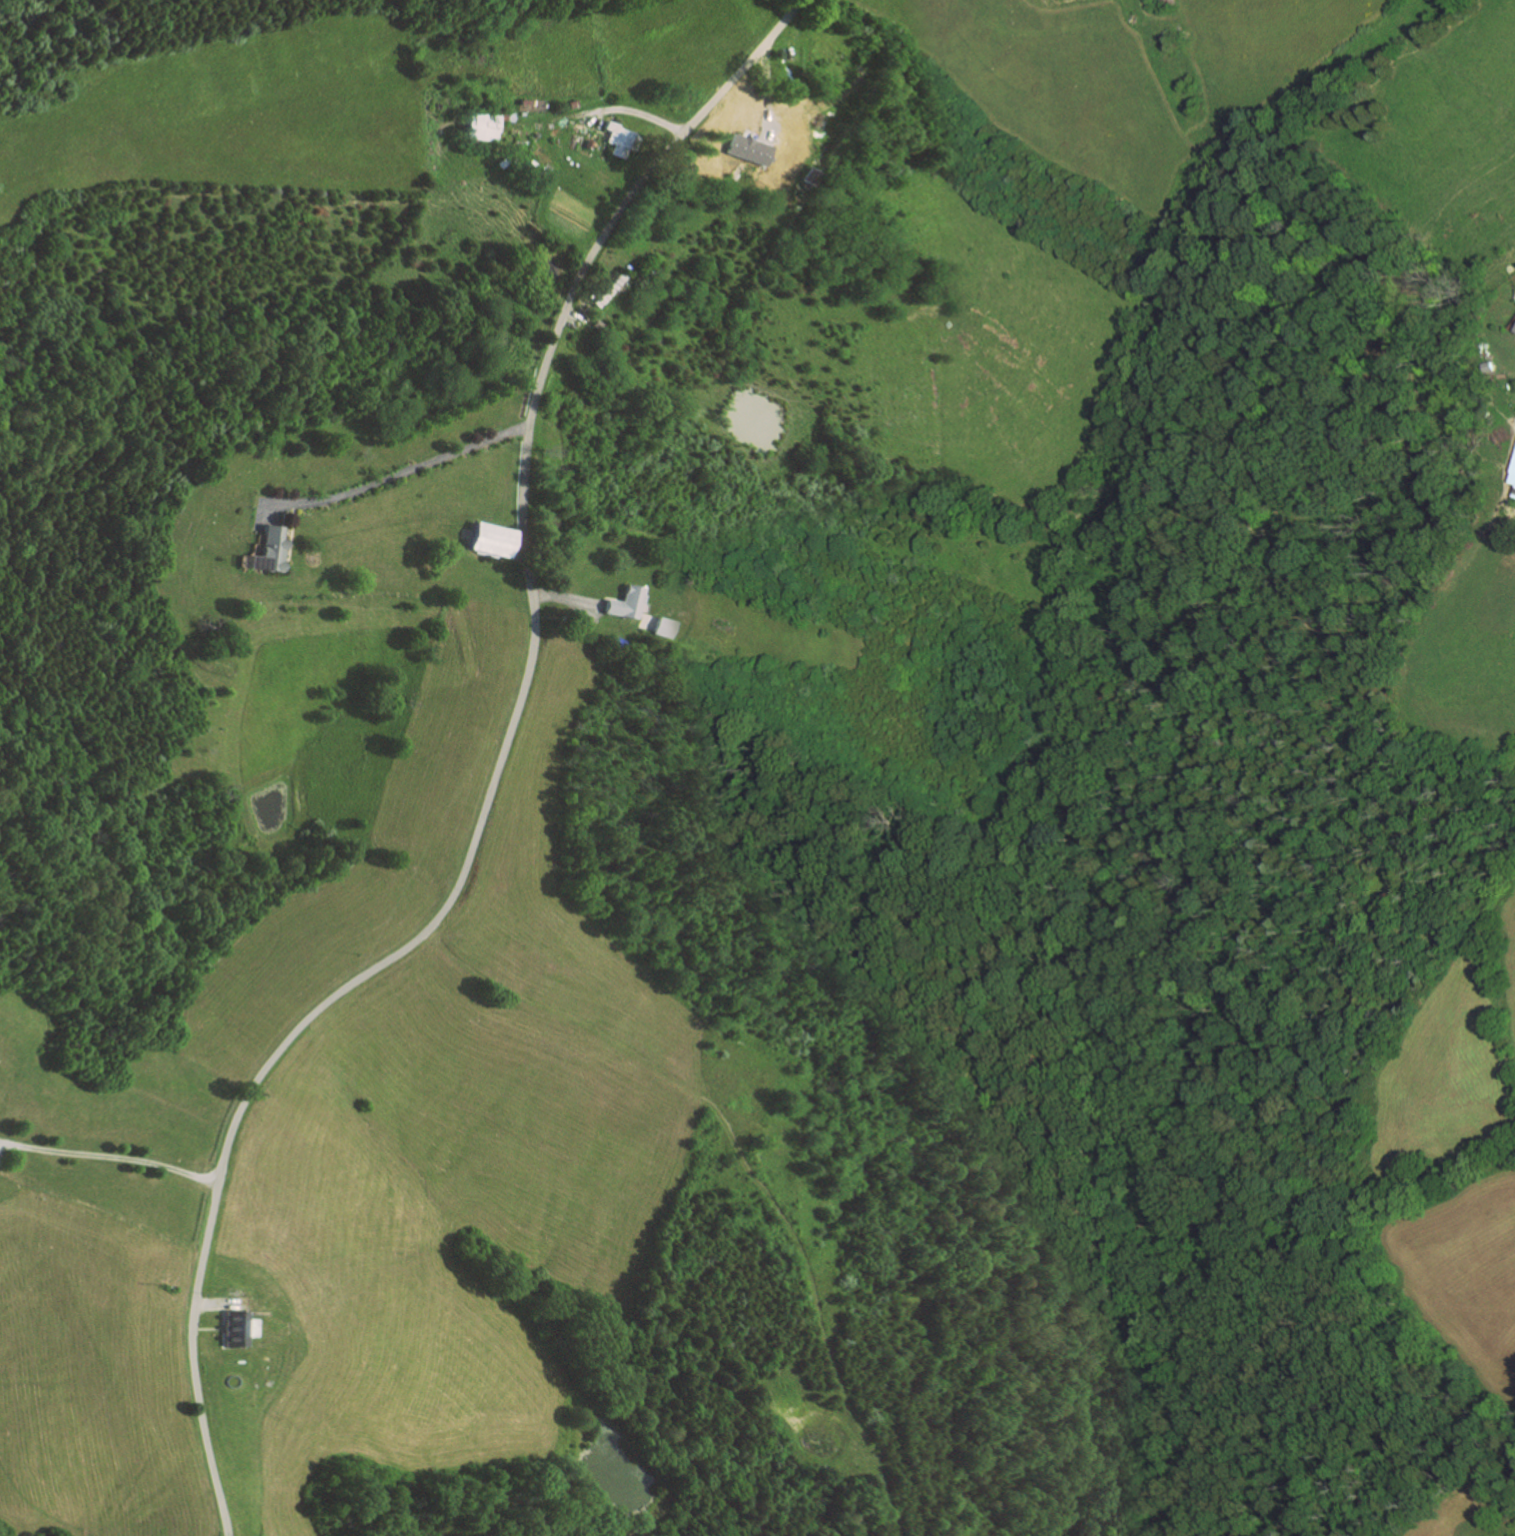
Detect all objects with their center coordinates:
road: (764, 96)
building: (569, 105)
road: (631, 111)
building: (479, 124)
building: (777, 135)
building: (617, 139)
building: (587, 143)
building: (733, 150)
building: (499, 162)
building: (527, 165)
building: (540, 170)
building: (607, 289)
road: (565, 318)
building: (593, 325)
road: (1505, 374)
building: (1514, 469)
road: (387, 477)
building: (1513, 479)
road: (287, 533)
building: (486, 540)
road: (514, 548)
building: (264, 550)
road: (563, 598)
building: (617, 600)
road: (579, 607)
building: (655, 625)
road: (493, 775)
road: (0, 1143)
road: (110, 1156)
road: (220, 1303)
road: (225, 1316)
road: (211, 1328)
building: (236, 1328)

